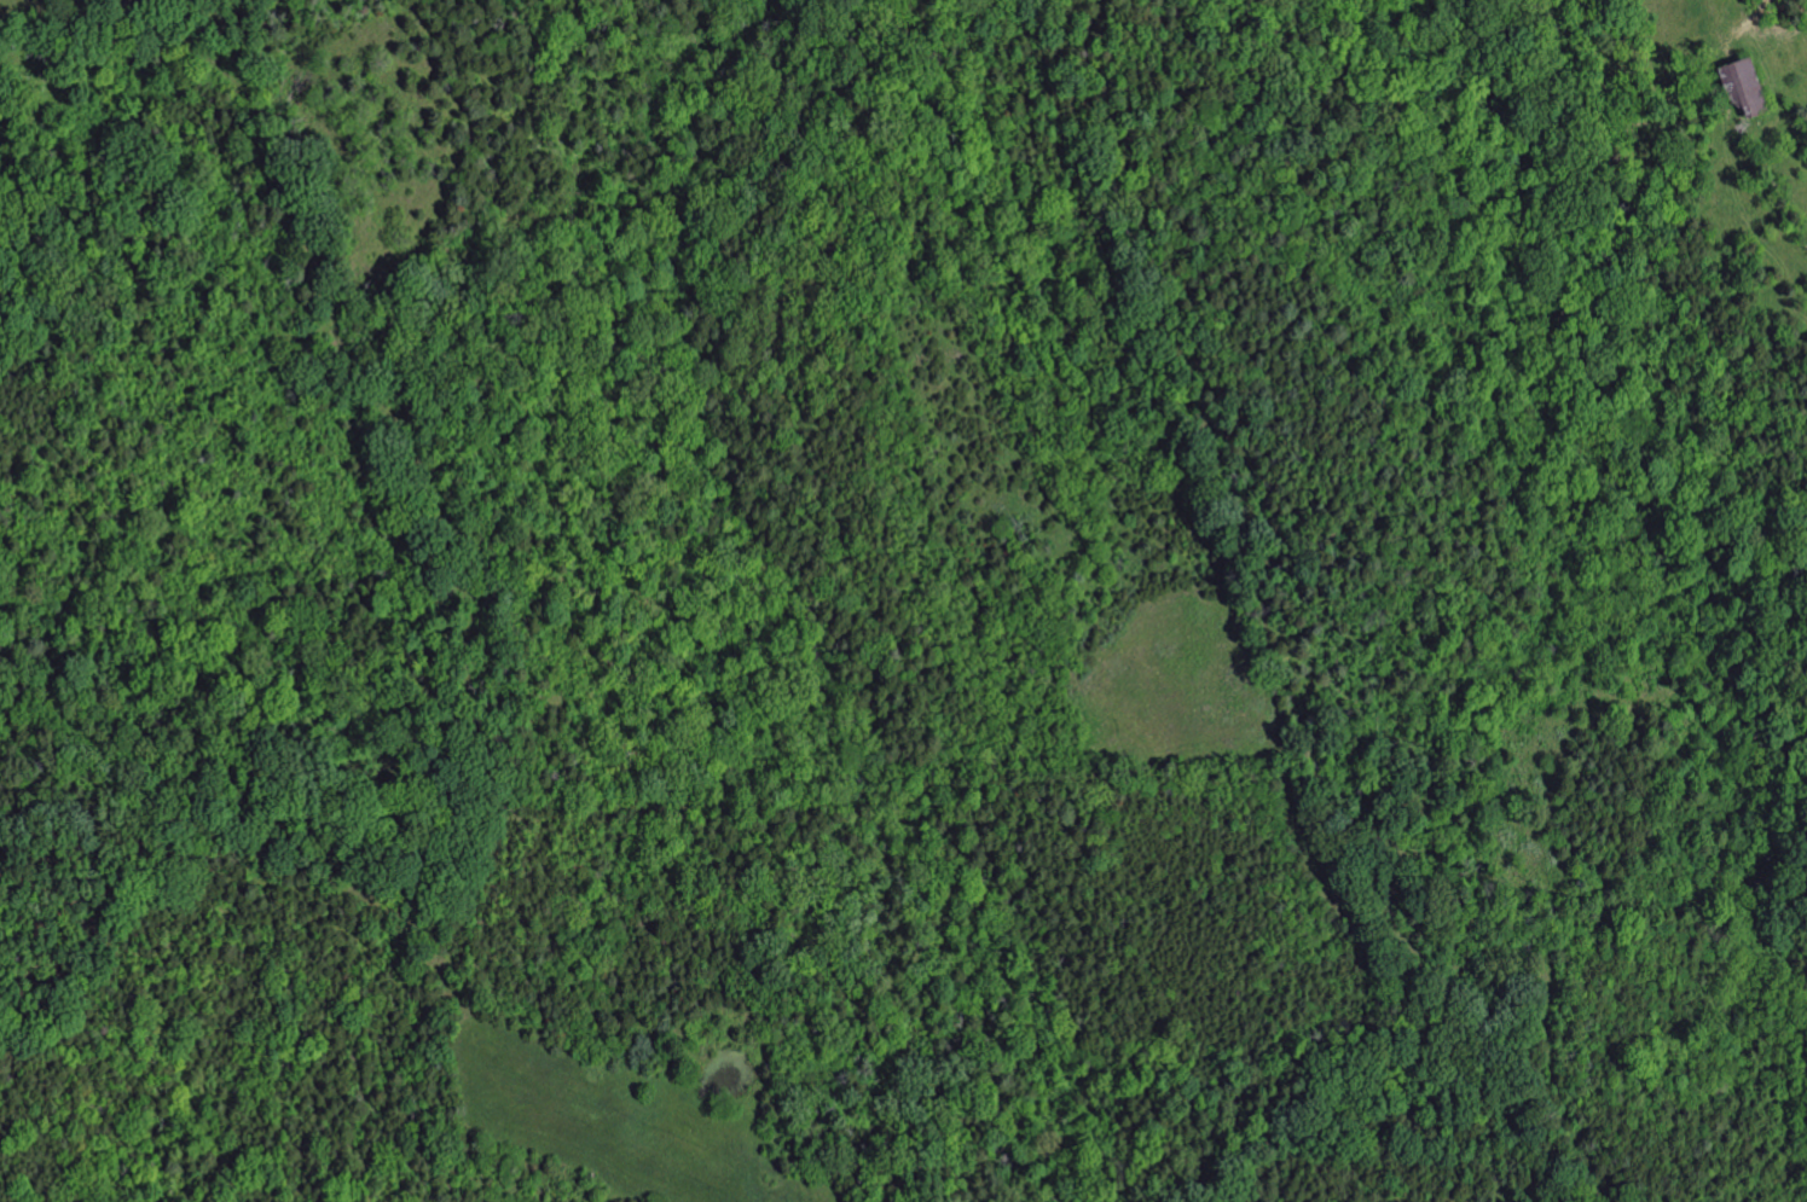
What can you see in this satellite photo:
building: (1734, 88)

